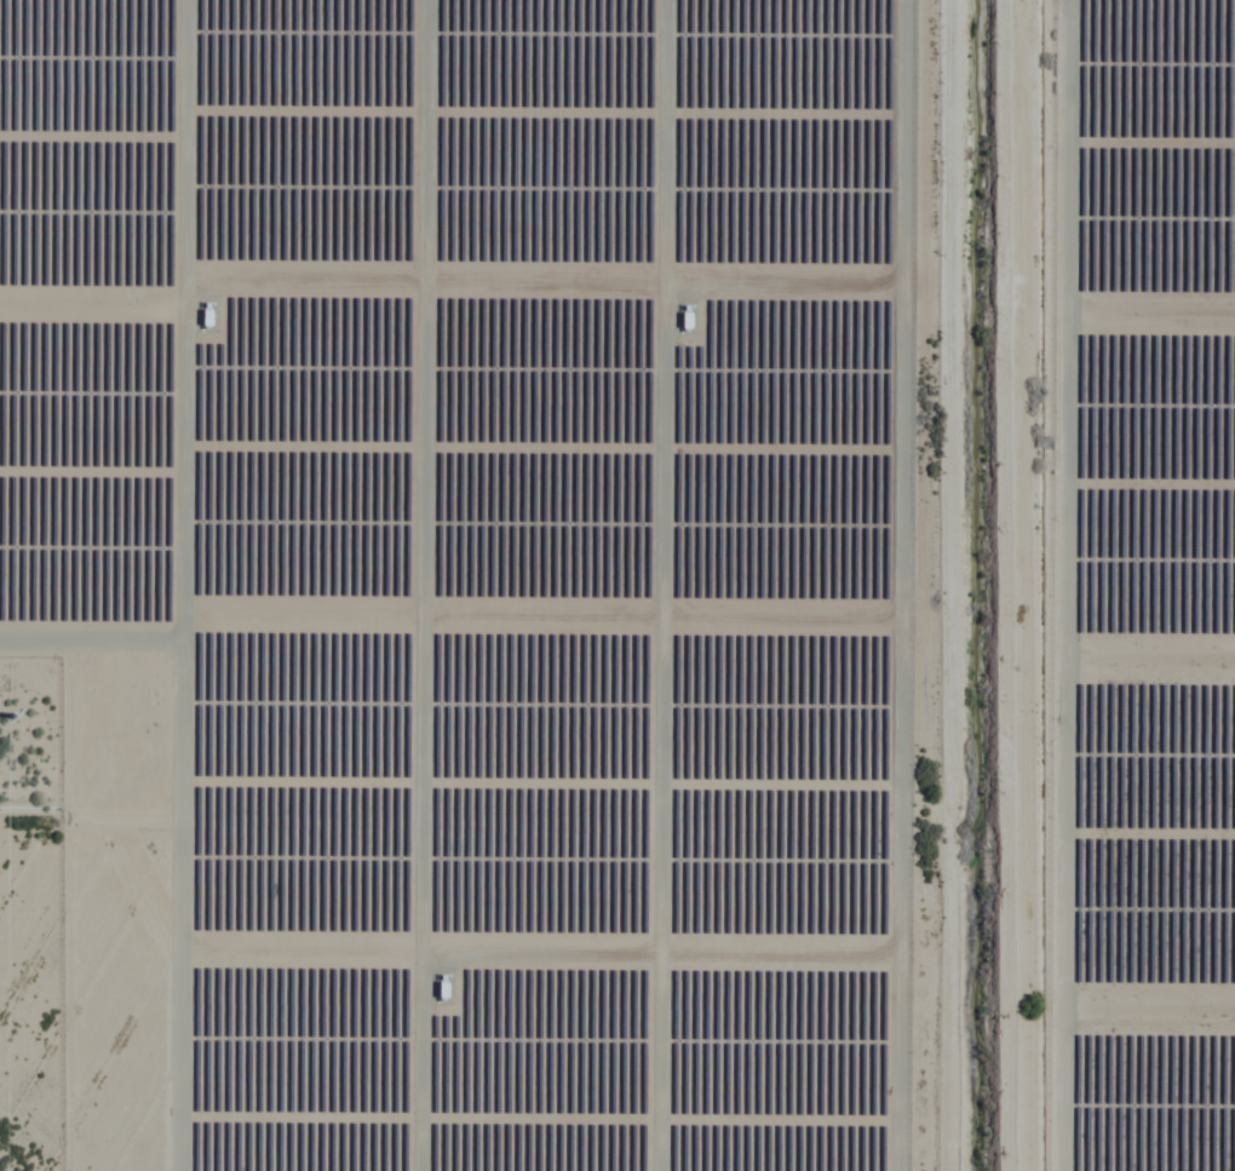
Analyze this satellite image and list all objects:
solar farm: (471, 574)
solar farm: (1144, 586)
power tower: (15, 713)

